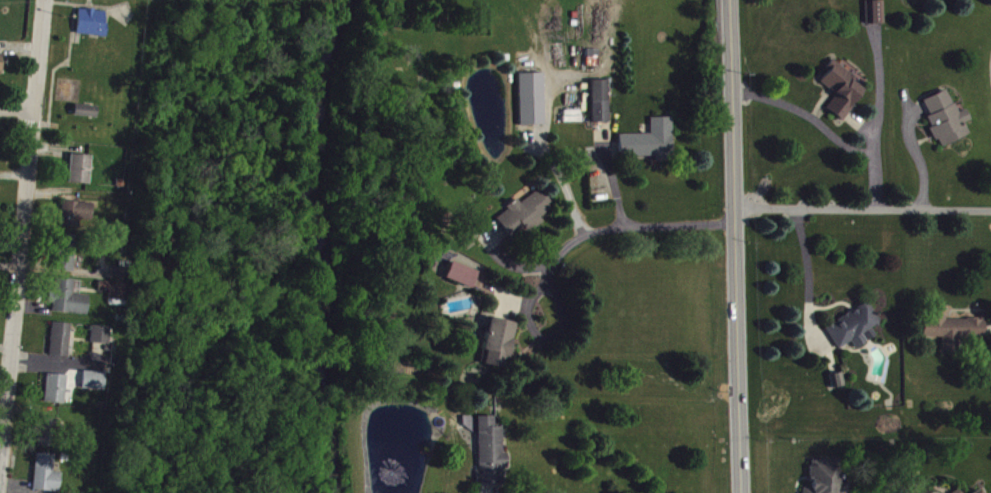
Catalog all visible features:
building: (876, 20)
building: (92, 31)
building: (594, 66)
building: (1, 71)
building: (842, 97)
building: (533, 107)
road: (15, 109)
building: (602, 109)
building: (85, 119)
building: (945, 126)
road: (828, 139)
building: (652, 150)
building: (79, 177)
road: (862, 217)
building: (75, 221)
building: (527, 222)
road: (22, 234)
road: (616, 238)
road: (734, 246)
building: (64, 260)
building: (463, 283)
building: (114, 300)
building: (68, 307)
building: (854, 335)
building: (956, 339)
building: (99, 343)
building: (60, 348)
building: (500, 350)
building: (93, 389)
building: (56, 397)
building: (47, 440)
building: (491, 460)
building: (46, 479)
building: (826, 480)

